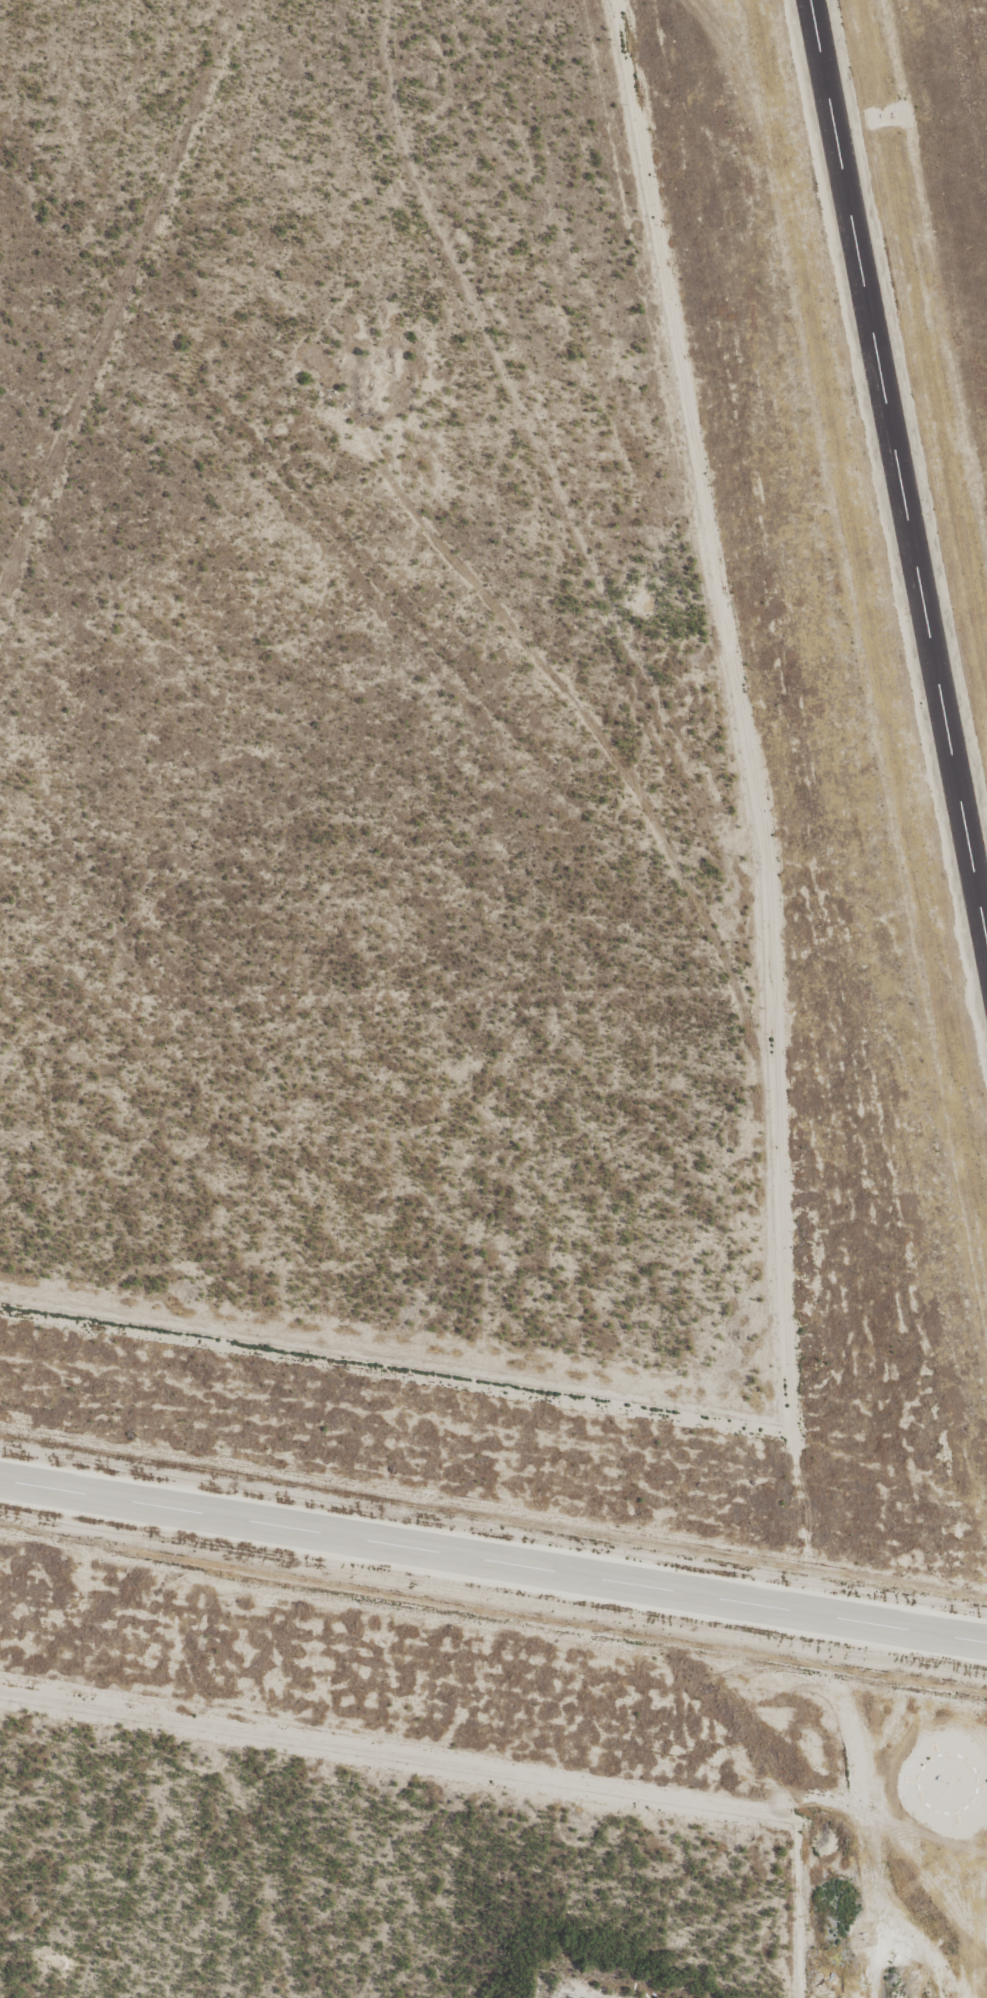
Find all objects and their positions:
road: (560, 255)
airport runway: (897, 477)
airport: (878, 1091)
airport runway: (493, 1561)
helipad: (946, 1784)

